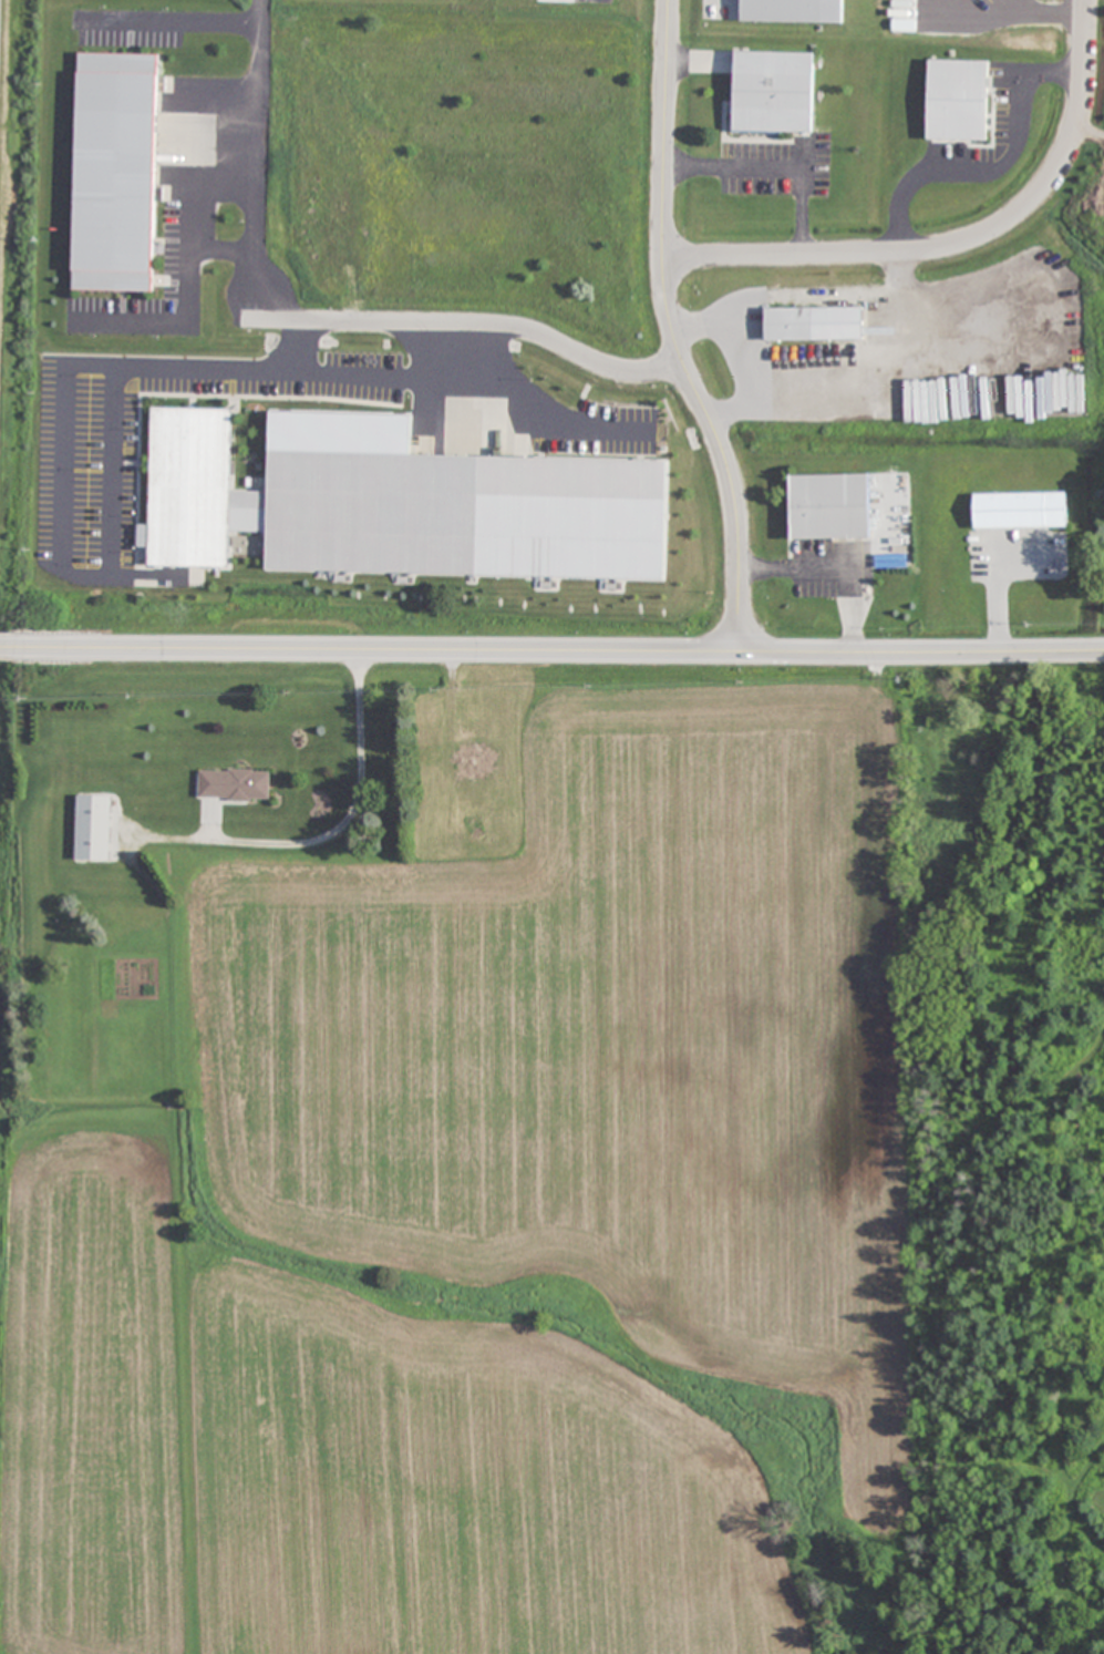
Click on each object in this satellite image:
building: (794, 11)
building: (774, 92)
building: (958, 100)
road: (257, 161)
building: (115, 172)
road: (958, 243)
road: (446, 325)
building: (790, 326)
road: (673, 331)
road: (664, 370)
road: (373, 376)
road: (526, 407)
road: (60, 475)
building: (830, 506)
building: (401, 510)
building: (1021, 510)
road: (11, 646)
road: (563, 654)
building: (234, 784)
building: (93, 828)
park: (1025, 1159)
crop: (522, 1205)

